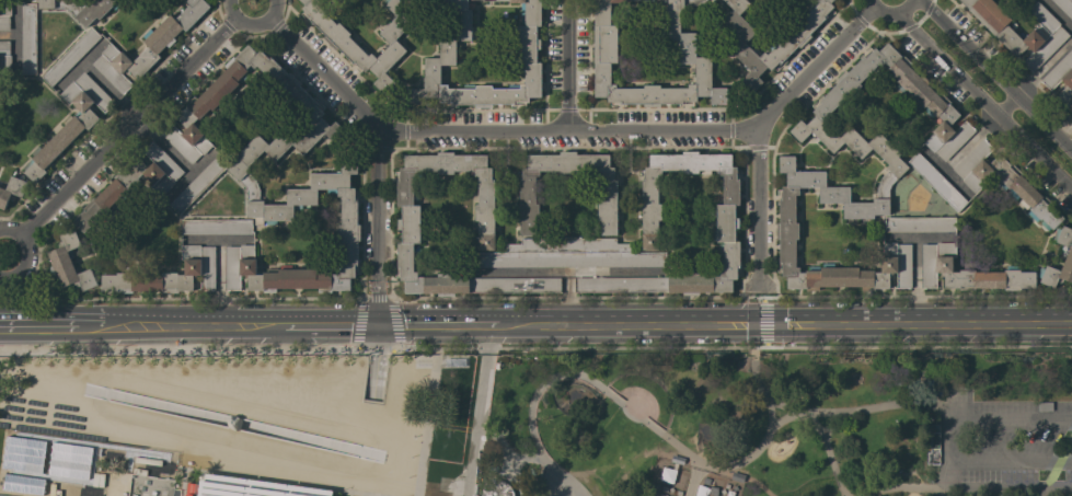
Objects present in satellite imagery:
building: (1064, 7)
building: (79, 9)
building: (4, 14)
road: (892, 15)
road: (250, 21)
building: (1045, 37)
building: (28, 38)
road: (14, 47)
building: (782, 47)
building: (154, 48)
building: (353, 48)
building: (606, 48)
road: (92, 53)
building: (525, 54)
building: (70, 56)
building: (4, 58)
road: (567, 66)
road: (96, 78)
road: (993, 78)
building: (1061, 79)
road: (1023, 85)
road: (983, 103)
building: (69, 123)
road: (372, 125)
road: (650, 131)
road: (120, 136)
road: (174, 157)
building: (897, 166)
building: (239, 168)
building: (1004, 181)
building: (937, 182)
building: (130, 184)
road: (178, 184)
building: (198, 184)
building: (11, 191)
building: (527, 192)
road: (757, 207)
building: (410, 212)
building: (727, 223)
building: (920, 224)
building: (217, 227)
road: (900, 237)
building: (568, 254)
building: (1069, 256)
road: (915, 262)
building: (68, 263)
building: (967, 272)
building: (168, 275)
road: (756, 284)
building: (480, 285)
road: (730, 297)
road: (374, 298)
road: (180, 299)
road: (374, 301)
road: (753, 322)
road: (770, 322)
traffic signals: (376, 323)
road: (342, 324)
road: (422, 324)
road: (37, 325)
road: (91, 325)
road: (208, 325)
road: (912, 346)
road: (376, 347)
road: (377, 362)
road: (613, 397)
road: (772, 402)
building: (1045, 406)
road: (863, 407)
road: (477, 410)
road: (782, 416)
road: (210, 417)
road: (426, 422)
road: (814, 423)
park: (776, 424)
road: (450, 427)
road: (497, 438)
road: (950, 442)
parking lot: (1005, 446)
building: (18, 452)
road: (516, 459)
road: (1054, 464)
road: (699, 465)
road: (944, 474)
road: (512, 478)
road: (456, 481)
road: (838, 481)
road: (690, 482)
road: (1004, 484)
road: (906, 486)
building: (251, 487)
building: (496, 487)
road: (842, 493)

